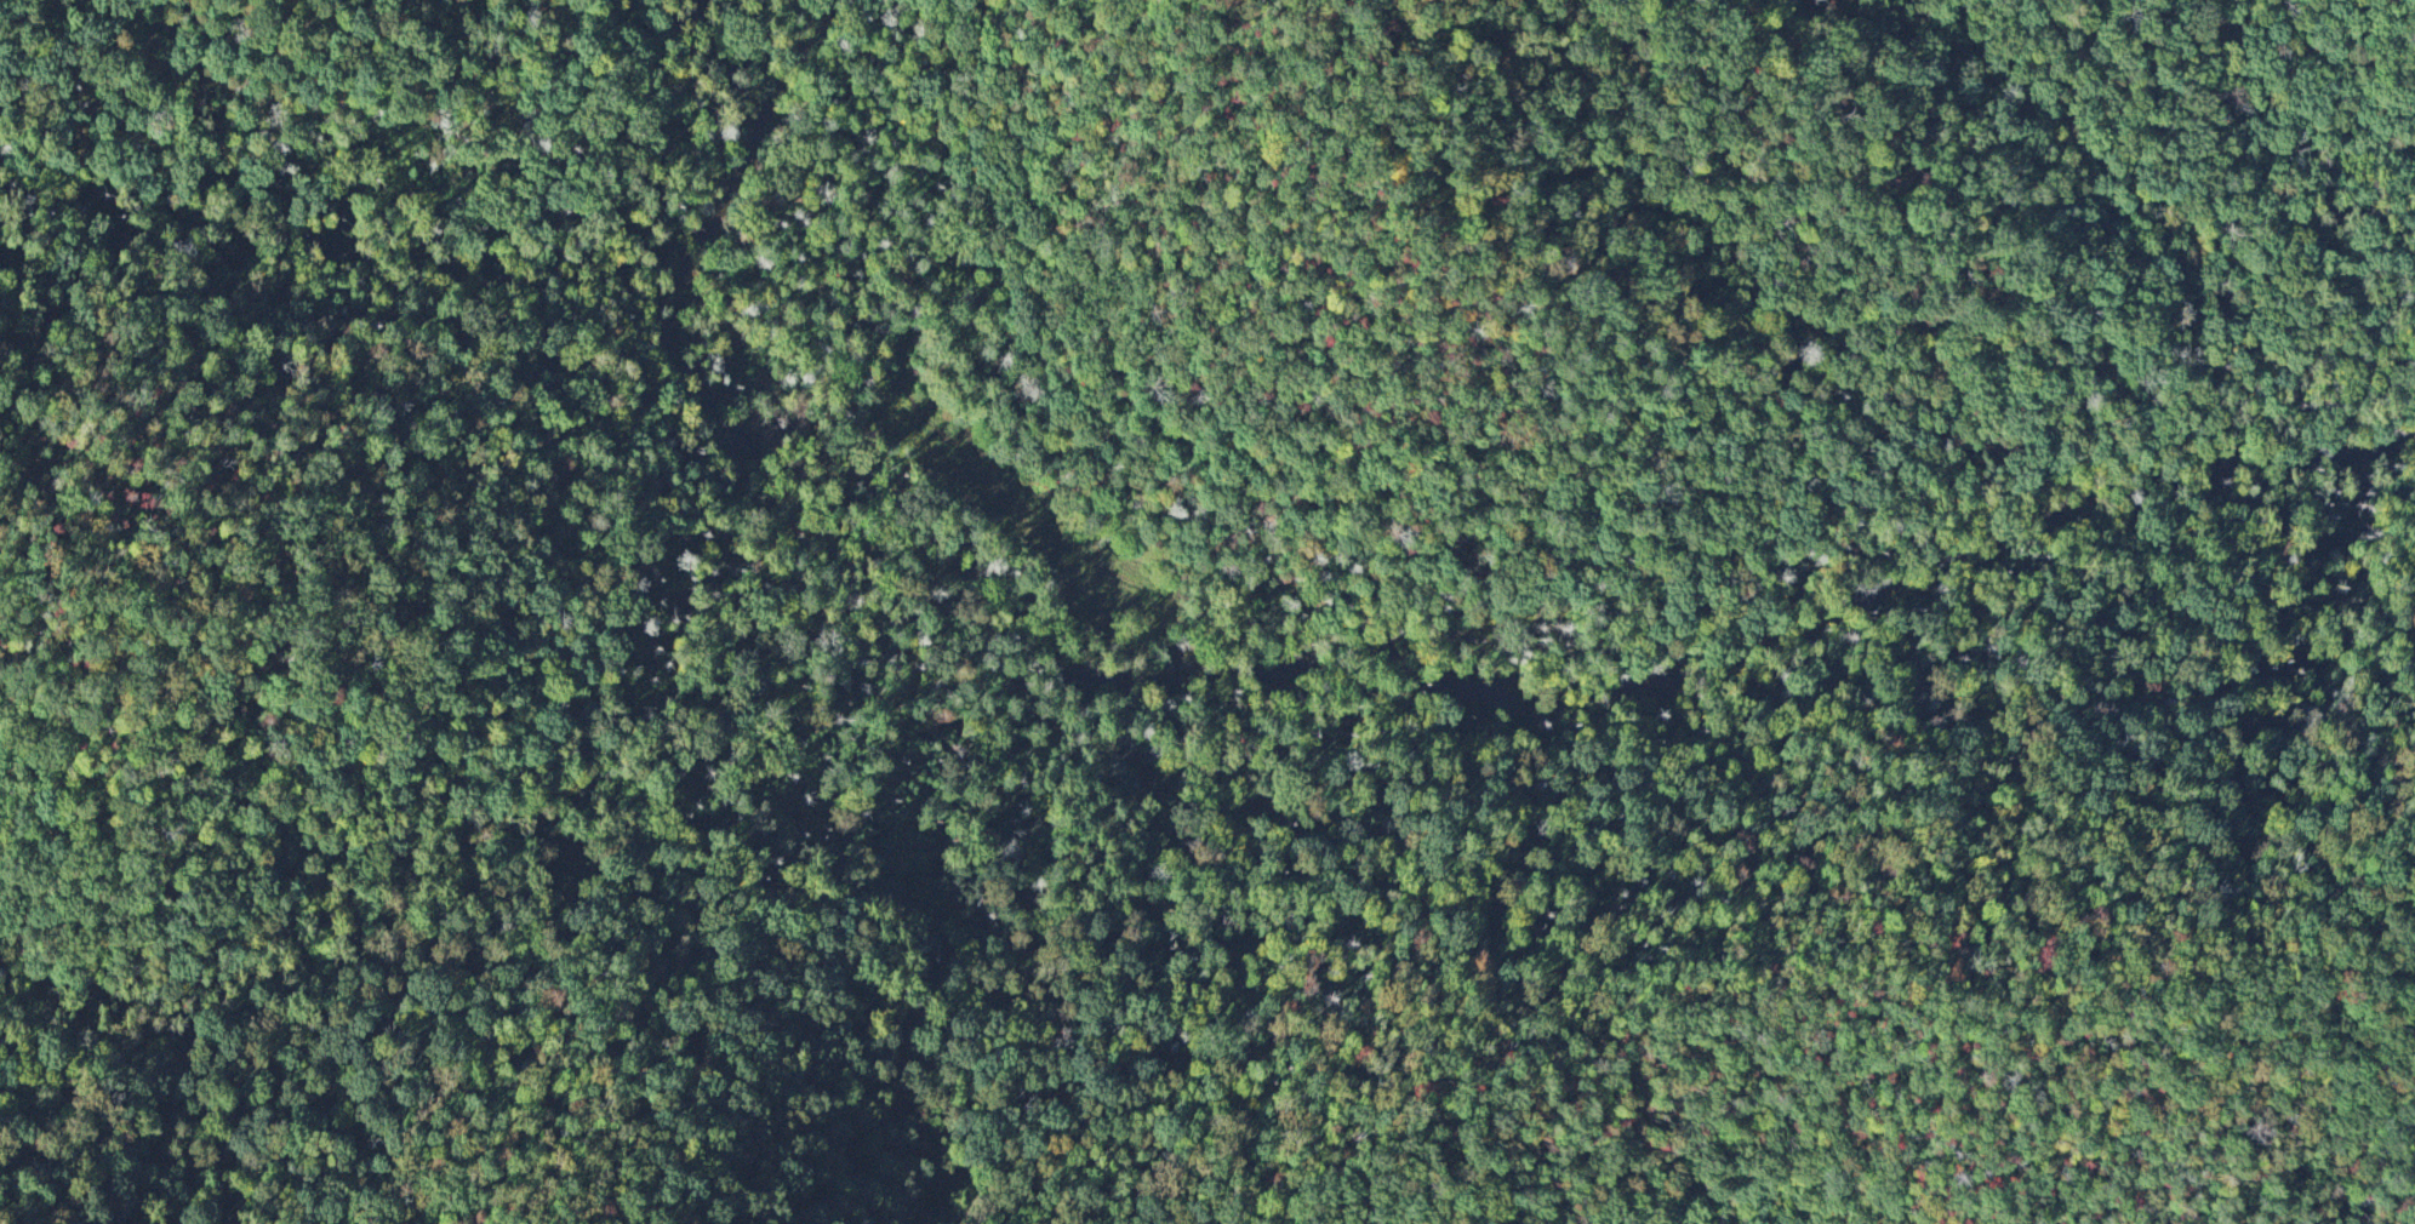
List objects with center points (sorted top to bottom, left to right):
road: (1458, 618)
road: (645, 687)

